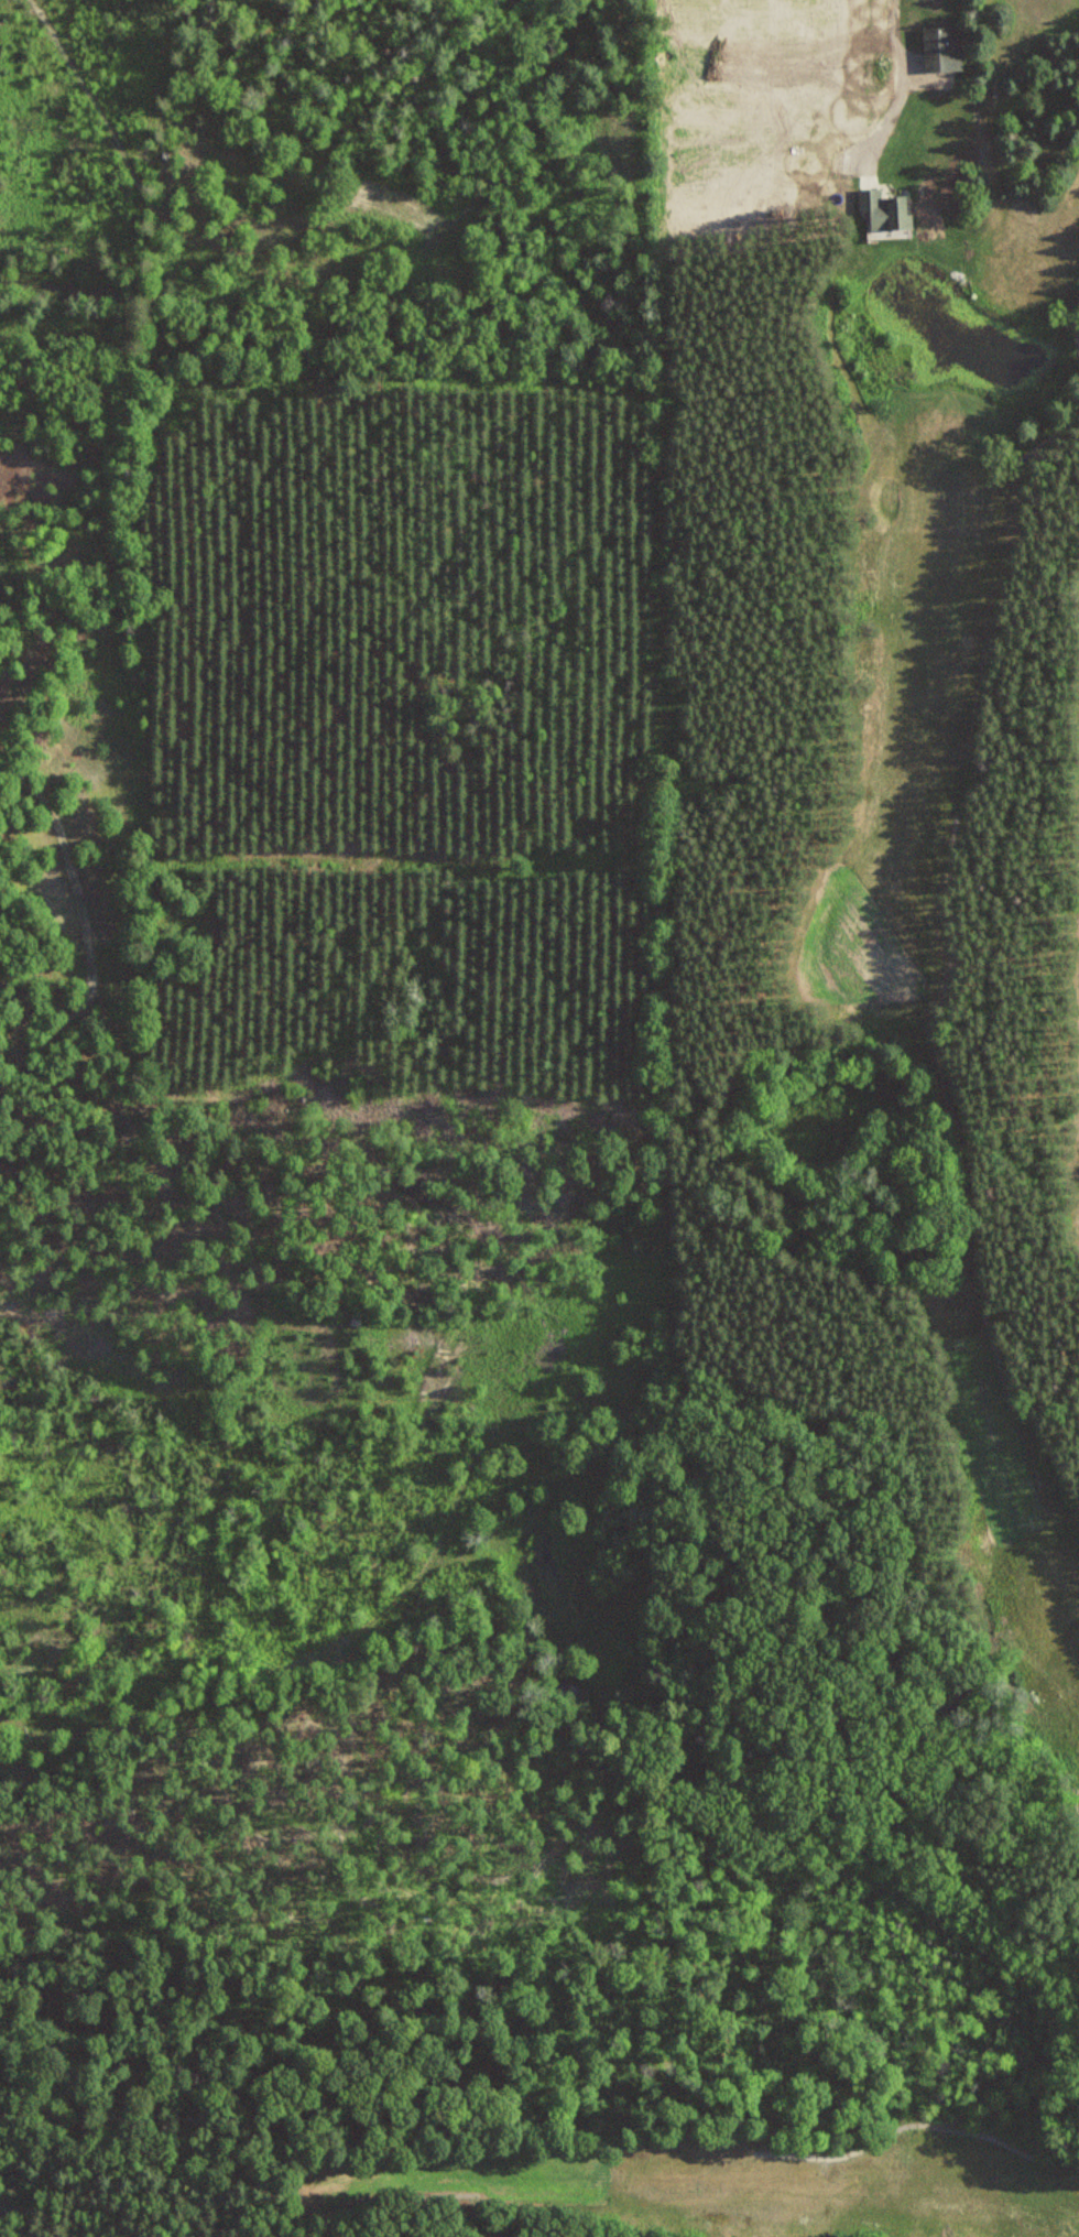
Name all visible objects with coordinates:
building: (942, 50)
building: (885, 210)
park: (951, 911)
park: (514, 2150)

